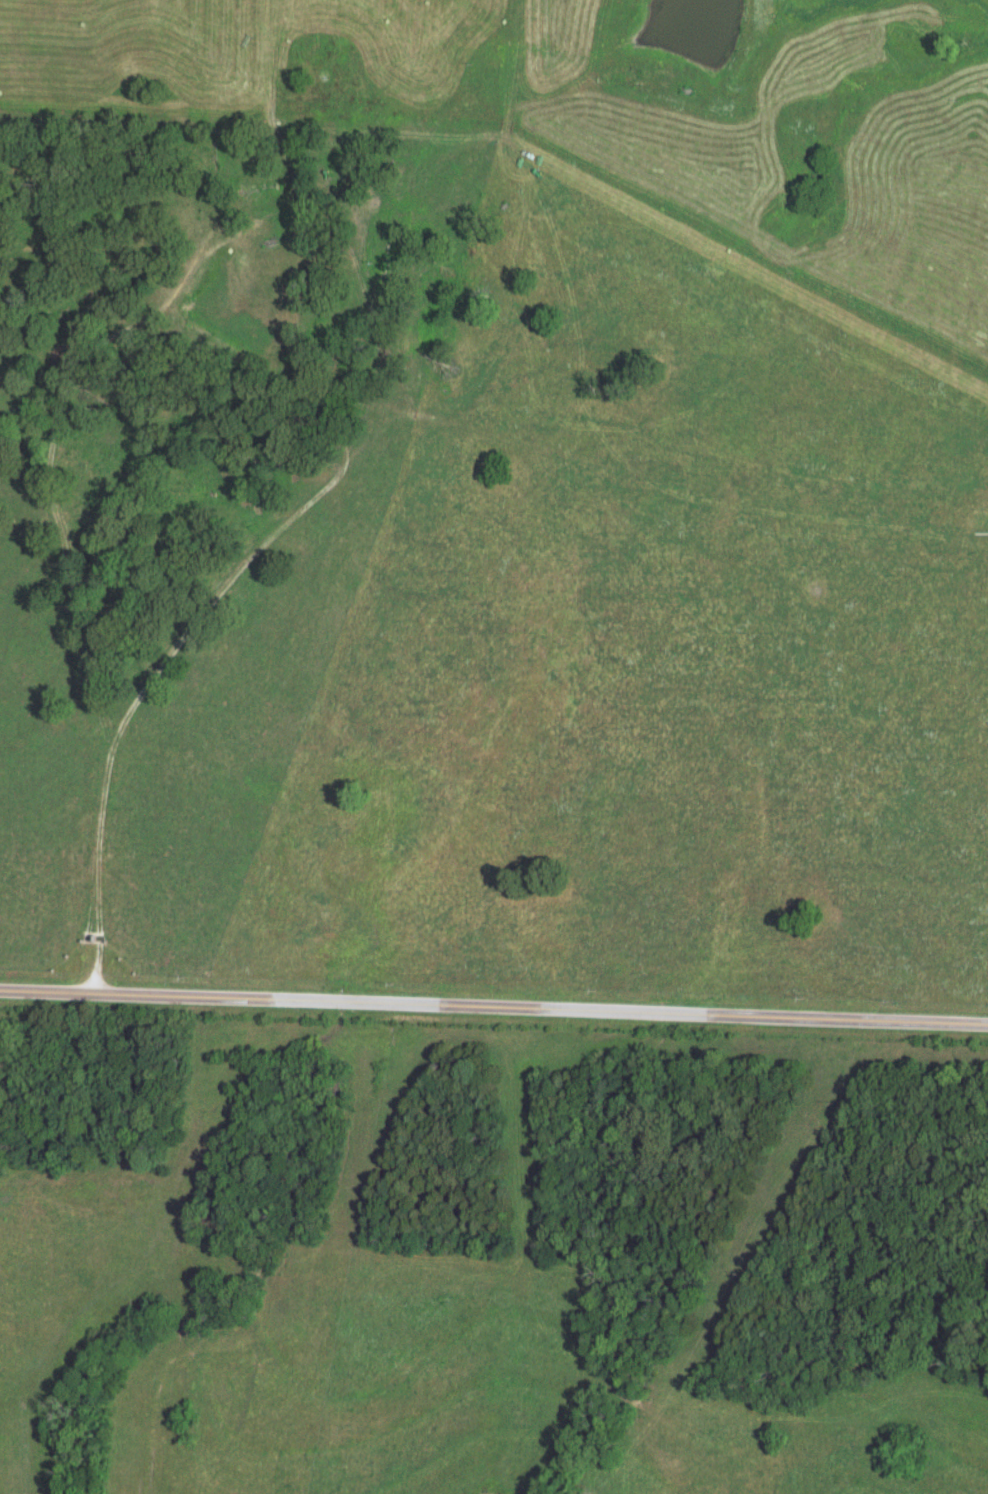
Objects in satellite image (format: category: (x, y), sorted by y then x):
road: (494, 1003)

